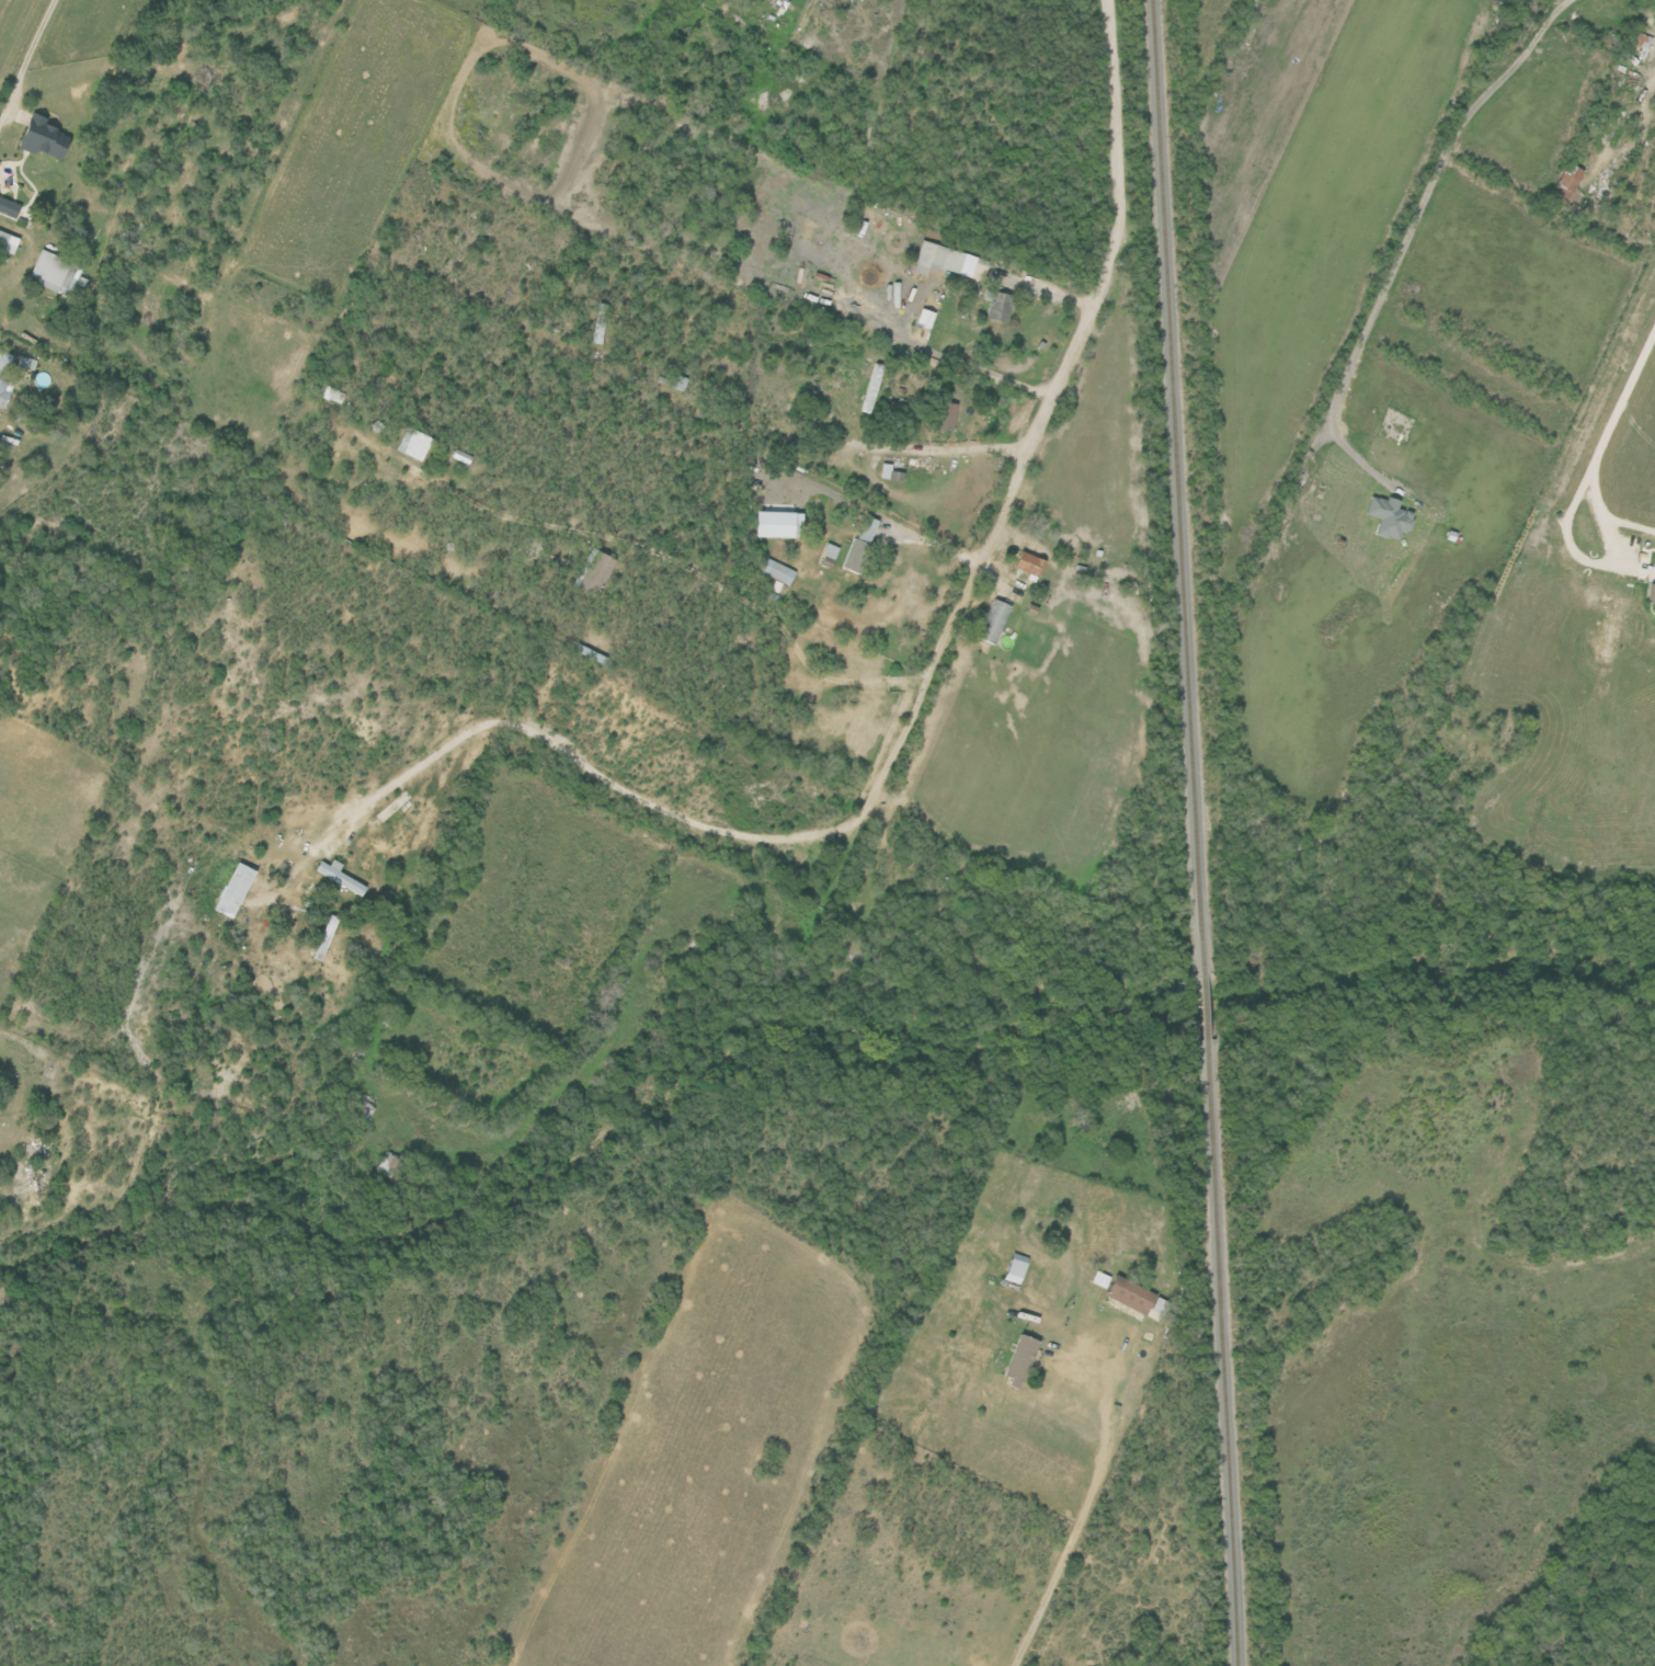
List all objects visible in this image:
building: (1654, 20)
road: (10, 21)
road: (26, 56)
building: (41, 138)
building: (1565, 181)
building: (9, 207)
road: (1412, 229)
building: (8, 242)
building: (941, 260)
building: (56, 274)
road: (1047, 288)
building: (997, 306)
building: (923, 318)
building: (3, 392)
building: (332, 395)
building: (944, 415)
road: (1602, 440)
building: (411, 444)
road: (936, 447)
building: (884, 471)
railway: (1176, 487)
building: (1386, 517)
road: (1625, 520)
building: (859, 544)
building: (824, 554)
building: (1027, 563)
building: (775, 571)
building: (593, 572)
building: (1650, 593)
building: (992, 621)
road: (926, 680)
building: (335, 875)
building: (231, 890)
railway: (1202, 1008)
building: (1013, 1268)
building: (1129, 1296)
railway: (1223, 1354)
building: (1018, 1360)
road: (1074, 1534)

